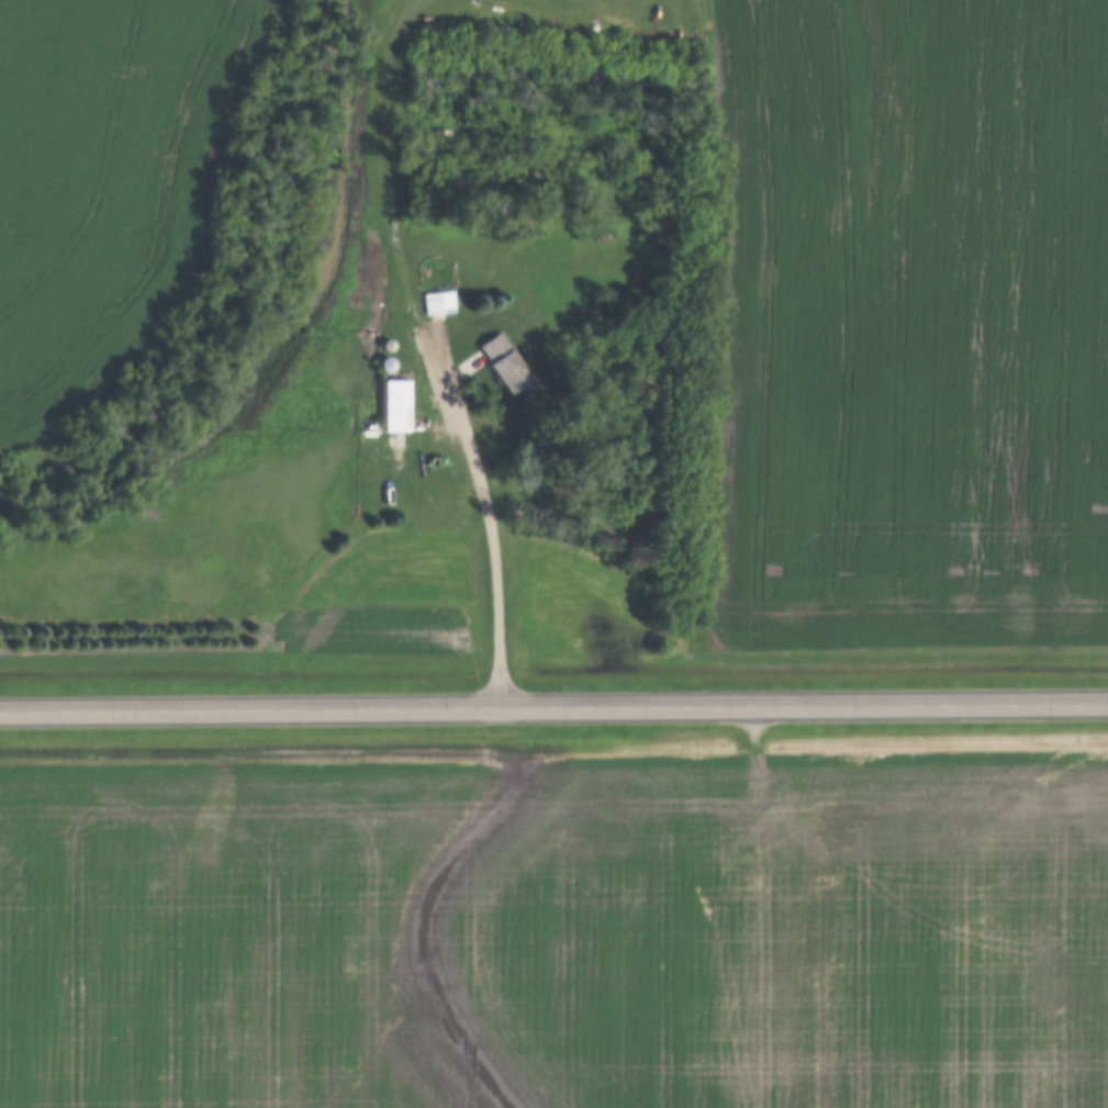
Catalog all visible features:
road: (377, 167)
crop: (101, 184)
building: (440, 302)
crop: (908, 324)
building: (507, 360)
building: (385, 363)
silo: (385, 363)
building: (391, 406)
road: (484, 514)
road: (553, 705)
crop: (557, 933)

